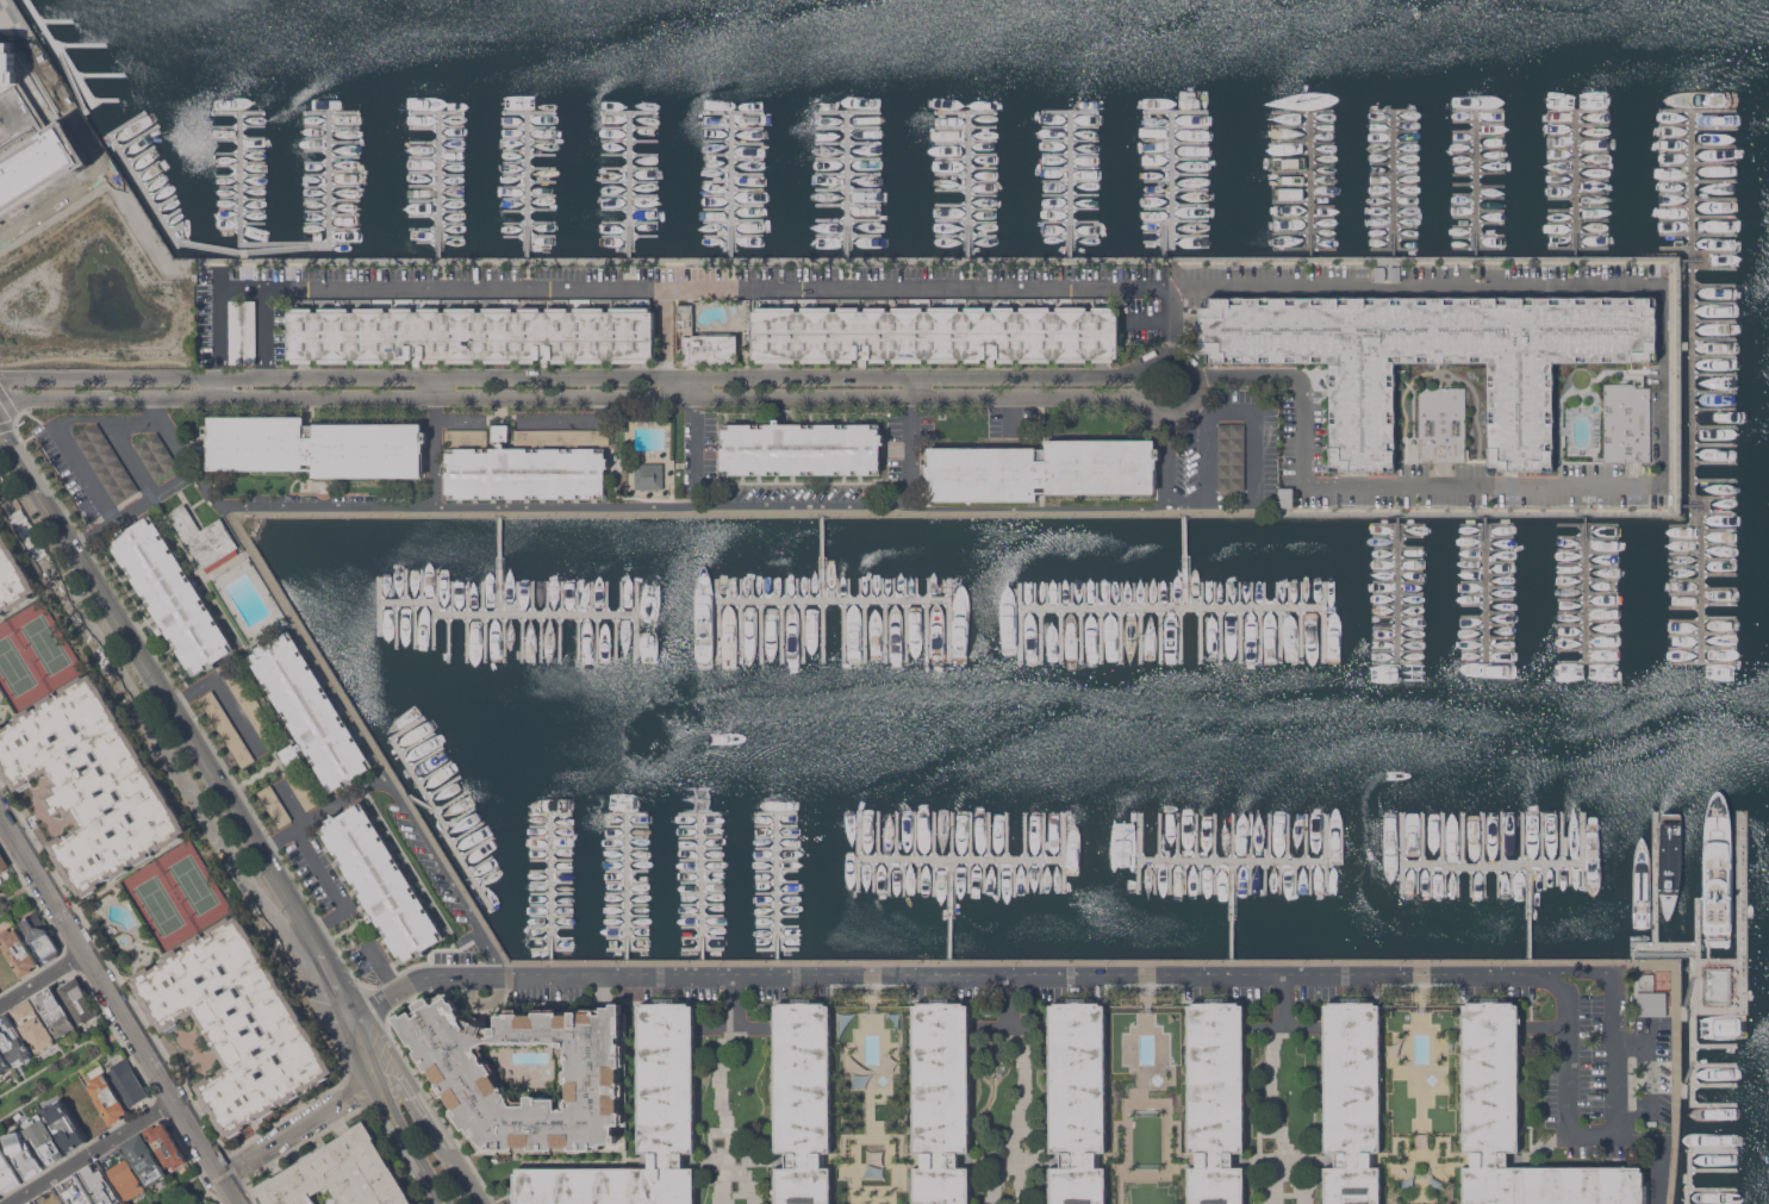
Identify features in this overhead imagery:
building: (30, 138)
pier: (1575, 182)
pier: (968, 183)
pier: (1070, 183)
pier: (1171, 183)
pier: (1477, 183)
pier: (438, 185)
pier: (527, 185)
pier: (630, 185)
pier: (730, 185)
pier: (847, 185)
pier: (1309, 185)
pier: (1394, 185)
pier: (1692, 188)
pier: (163, 217)
pier: (287, 244)
pier: (279, 249)
road: (219, 272)
building: (1389, 272)
building: (1628, 272)
road: (1277, 292)
building: (243, 331)
road: (266, 332)
building: (936, 333)
building: (472, 335)
road: (664, 336)
building: (699, 341)
road: (1171, 341)
building: (1433, 357)
road: (586, 376)
road: (584, 397)
road: (1247, 410)
building: (1626, 422)
building: (1441, 424)
building: (500, 432)
building: (466, 436)
building: (561, 436)
road: (694, 436)
building: (314, 445)
building: (802, 448)
building: (156, 455)
building: (1229, 457)
building: (106, 462)
building: (1041, 469)
building: (525, 472)
road: (82, 473)
building: (649, 475)
building: (1285, 495)
building: (1434, 497)
building: (1633, 497)
road: (1176, 498)
road: (325, 505)
road: (733, 505)
road: (1547, 512)
road: (89, 532)
building: (205, 538)
pier: (822, 559)
pier: (1184, 563)
pier: (1701, 574)
building: (12, 578)
pier: (1397, 588)
pier: (1485, 588)
pier: (1586, 588)
building: (172, 594)
pier: (834, 601)
pier: (1172, 610)
pier: (481, 615)
pier: (567, 615)
park: (32, 654)
road: (223, 690)
road: (139, 701)
building: (250, 705)
building: (311, 711)
building: (226, 729)
building: (289, 753)
building: (87, 784)
building: (301, 788)
pier: (422, 804)
building: (274, 805)
road: (291, 805)
road: (322, 813)
road: (241, 821)
pier: (442, 824)
pier: (1231, 859)
pier: (961, 860)
building: (2, 861)
pier: (1493, 862)
road: (447, 874)
pier: (1740, 874)
pier: (1655, 875)
building: (381, 881)
pier: (550, 887)
pier: (627, 887)
pier: (702, 887)
pier: (777, 887)
road: (20, 892)
pier: (951, 909)
pier: (1232, 909)
road: (347, 910)
pier: (1530, 911)
pier: (1696, 918)
road: (330, 919)
building: (39, 936)
building: (18, 950)
road: (1659, 953)
road: (1211, 961)
road: (317, 972)
road: (1049, 975)
road: (42, 977)
road: (1686, 992)
road: (1282, 999)
building: (77, 1000)
road: (733, 1000)
road: (1011, 1000)
building: (1653, 1004)
road: (119, 1009)
building: (55, 1011)
pier: (1683, 1012)
building: (32, 1024)
building: (232, 1024)
building: (13, 1040)
road: (1630, 1041)
pier: (1713, 1044)
road: (357, 1053)
building: (2, 1063)
pier: (1713, 1063)
building: (462, 1072)
park: (55, 1073)
road: (1565, 1073)
road: (1686, 1074)
road: (392, 1078)
pier: (1690, 1080)
building: (127, 1081)
pier: (1713, 1083)
pier: (1682, 1088)
road: (359, 1091)
building: (108, 1098)
building: (941, 1100)
building: (1077, 1100)
building: (1215, 1100)
building: (803, 1102)
building: (1352, 1102)
pier: (1709, 1110)
road: (440, 1116)
building: (64, 1124)
building: (1518, 1125)
building: (640, 1127)
road: (284, 1137)
building: (43, 1140)
road: (409, 1143)
building: (167, 1146)
road: (1659, 1149)
road: (94, 1150)
building: (21, 1154)
pier: (1688, 1154)
building: (144, 1159)
pier: (1712, 1168)
building: (123, 1173)
building: (7, 1174)
building: (338, 1175)
building: (100, 1184)
pier: (1712, 1187)
building: (75, 1191)
park: (181, 1191)
building: (50, 1197)
building: (31, 1202)
building: (1409, 1203)

